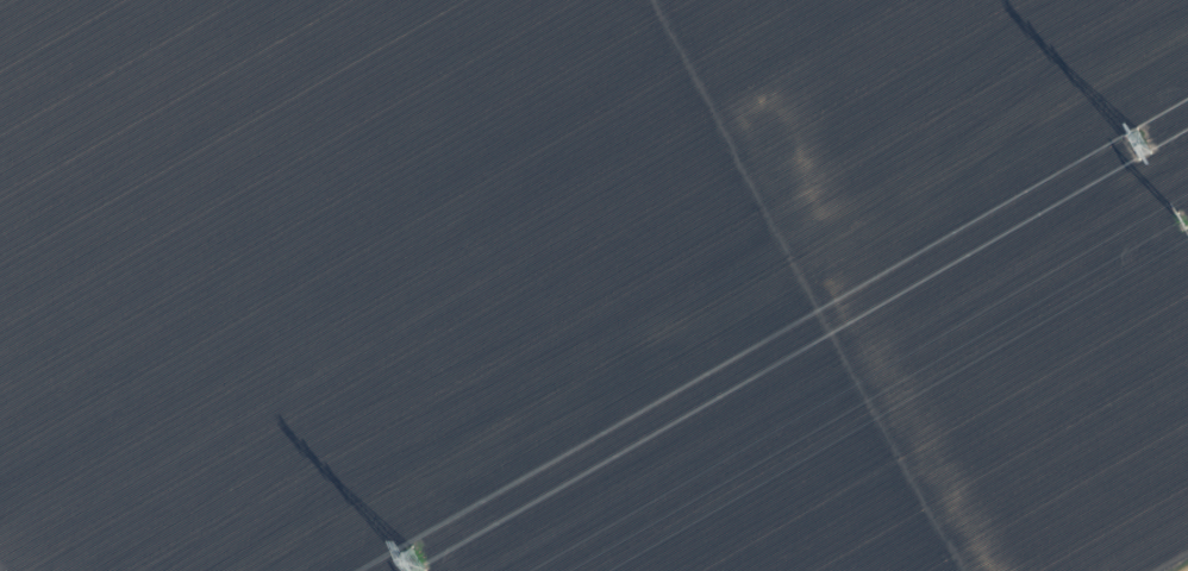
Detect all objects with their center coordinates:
power tower: (1134, 144)
power tower: (1183, 219)
power tower: (409, 563)

